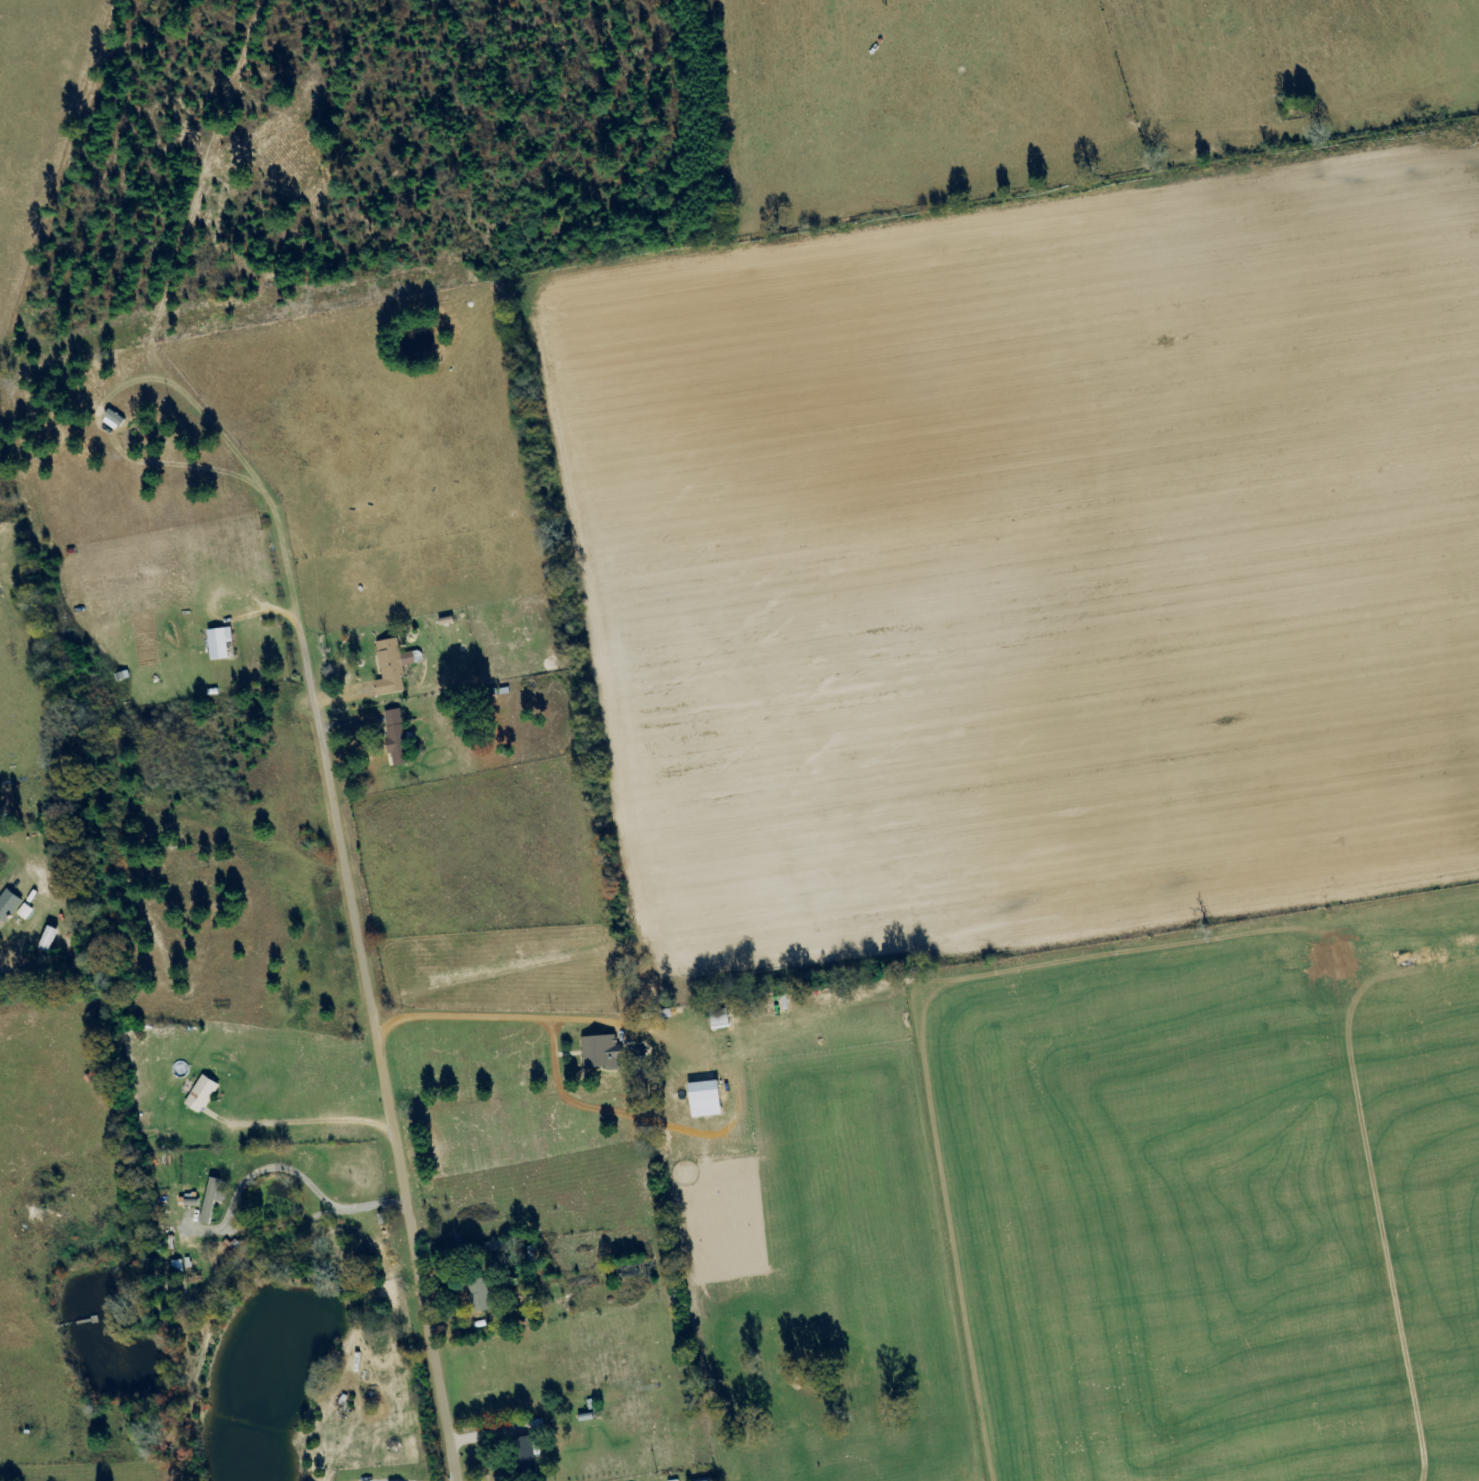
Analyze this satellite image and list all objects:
building: (111, 420)
building: (223, 644)
building: (394, 667)
building: (399, 737)
road: (470, 850)
building: (10, 905)
road: (392, 968)
building: (716, 1019)
building: (598, 1052)
building: (701, 1091)
building: (200, 1095)
building: (211, 1199)
building: (523, 1456)

